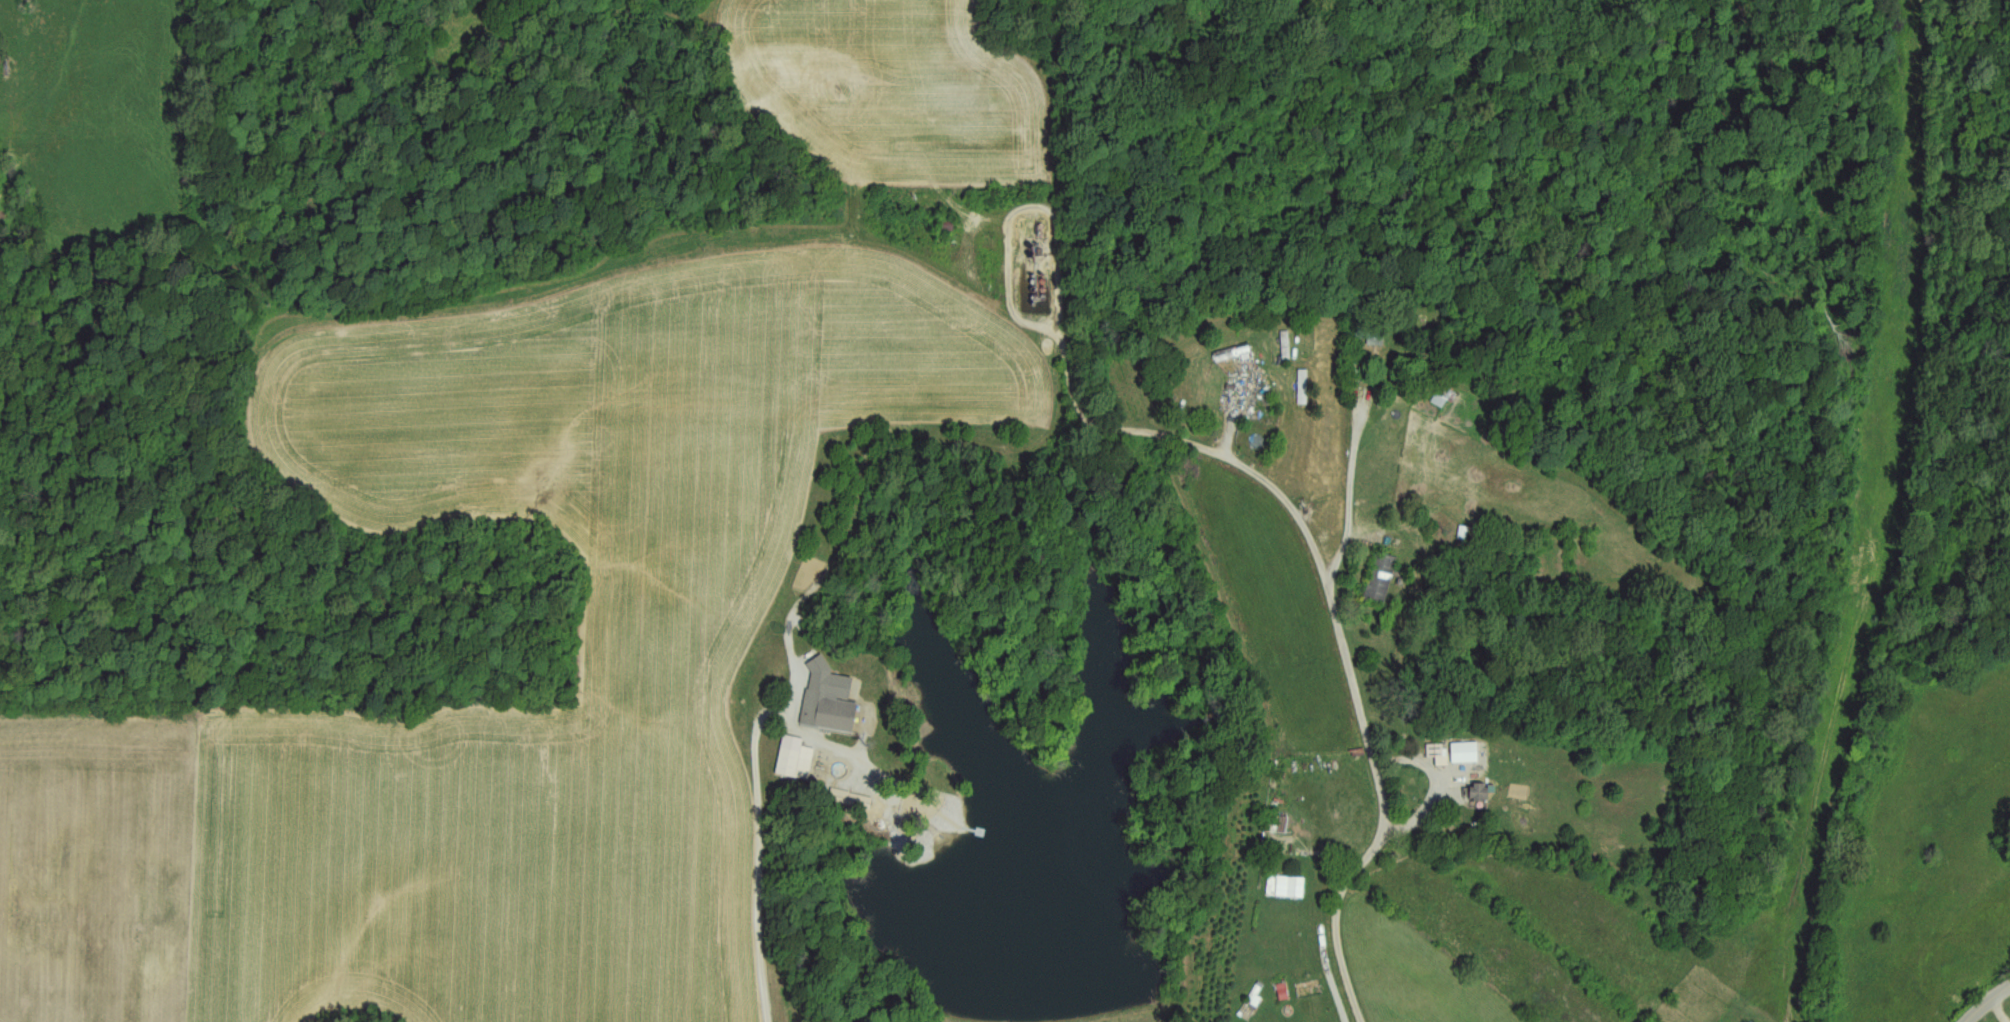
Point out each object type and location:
road: (1026, 209)
building: (947, 224)
building: (1371, 332)
building: (1288, 347)
building: (1233, 354)
building: (1445, 398)
building: (1268, 414)
road: (1350, 484)
building: (1382, 579)
road: (1334, 614)
building: (830, 713)
building: (1439, 750)
building: (1467, 752)
building: (797, 758)
building: (1481, 792)
building: (904, 801)
building: (1278, 824)
road: (761, 859)
building: (1290, 887)
road: (1985, 1002)
road: (2000, 1007)

